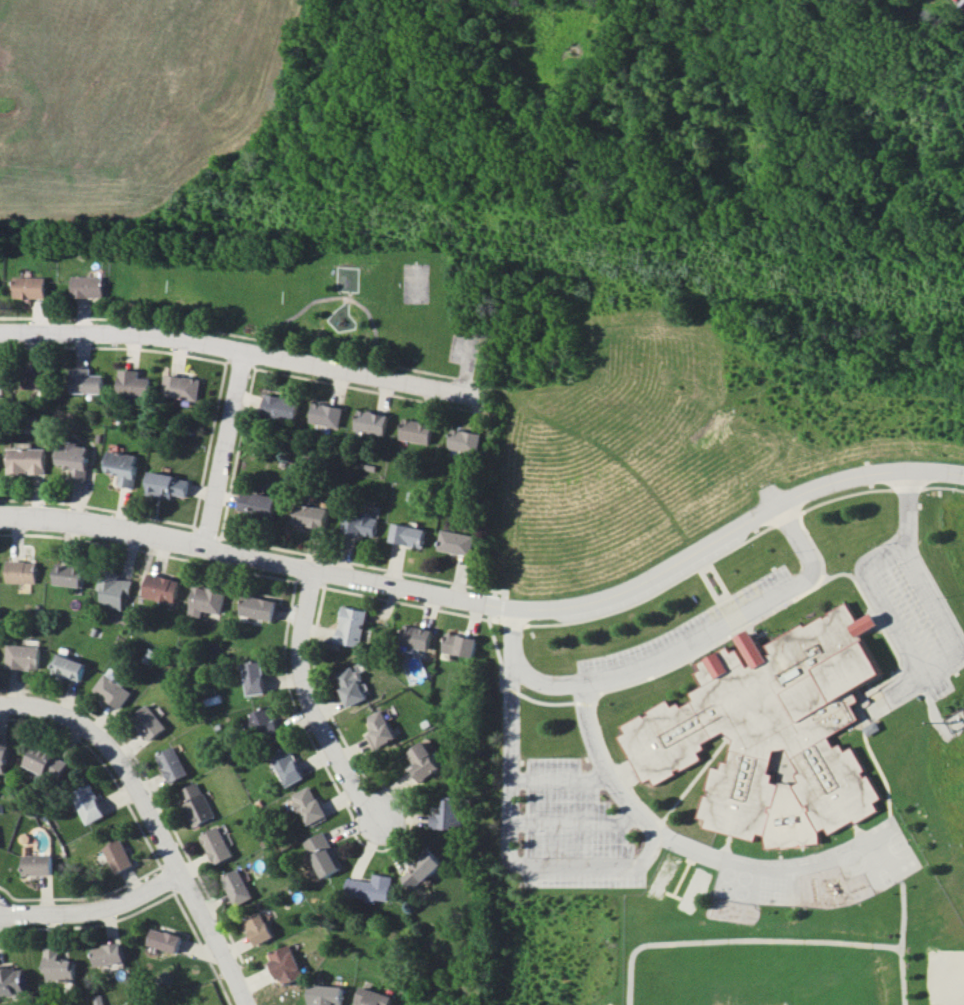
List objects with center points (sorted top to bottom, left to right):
power tower: (188, 198)
power tower: (653, 259)
park: (414, 282)
building: (90, 286)
building: (32, 287)
park: (323, 295)
road: (334, 297)
road: (244, 336)
road: (243, 345)
parking lot: (462, 347)
road: (465, 362)
building: (40, 376)
building: (1, 377)
building: (87, 381)
building: (134, 384)
building: (182, 387)
building: (282, 406)
building: (327, 414)
road: (229, 422)
building: (372, 422)
building: (418, 431)
building: (465, 440)
building: (75, 458)
building: (27, 460)
building: (123, 467)
building: (168, 485)
building: (258, 504)
building: (314, 516)
road: (207, 521)
building: (362, 524)
building: (409, 535)
building: (458, 542)
building: (21, 571)
building: (71, 574)
building: (163, 587)
building: (114, 589)
building: (207, 600)
road: (493, 602)
building: (260, 607)
parking lot: (915, 615)
road: (726, 617)
building: (353, 625)
building: (418, 636)
parking lot: (686, 637)
building: (462, 644)
road: (904, 652)
building: (23, 656)
building: (69, 667)
building: (256, 677)
building: (353, 685)
building: (113, 690)
road: (313, 709)
building: (149, 721)
building: (382, 727)
building: (770, 733)
building: (276, 743)
building: (4, 758)
building: (425, 761)
building: (46, 762)
building: (172, 764)
road: (559, 781)
building: (87, 803)
building: (196, 804)
building: (311, 806)
building: (452, 814)
road: (151, 820)
parking lot: (572, 827)
building: (218, 844)
building: (325, 854)
building: (118, 856)
road: (586, 863)
building: (37, 865)
building: (424, 869)
building: (238, 886)
building: (373, 887)
road: (94, 907)
building: (259, 928)
building: (165, 940)
building: (109, 954)
building: (287, 964)
building: (59, 966)
park: (945, 975)
building: (12, 980)
building: (326, 995)
building: (374, 997)

